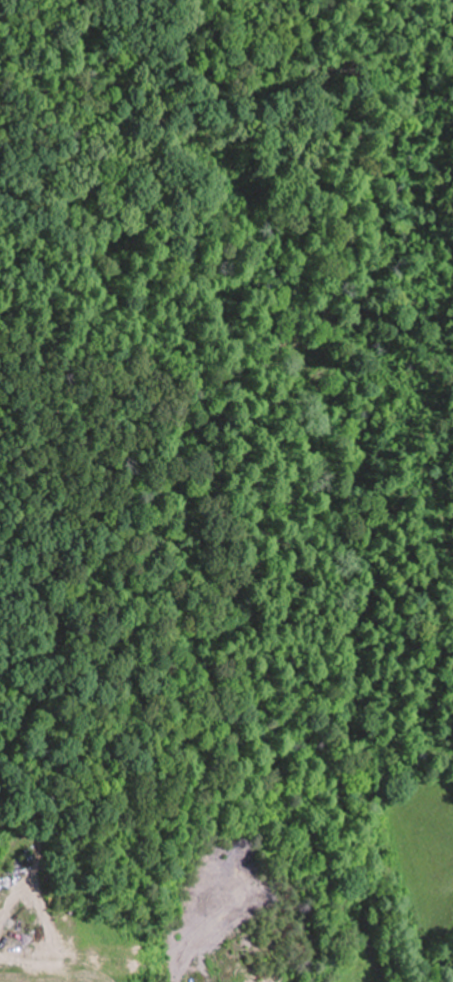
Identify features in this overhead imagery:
road: (311, 858)

